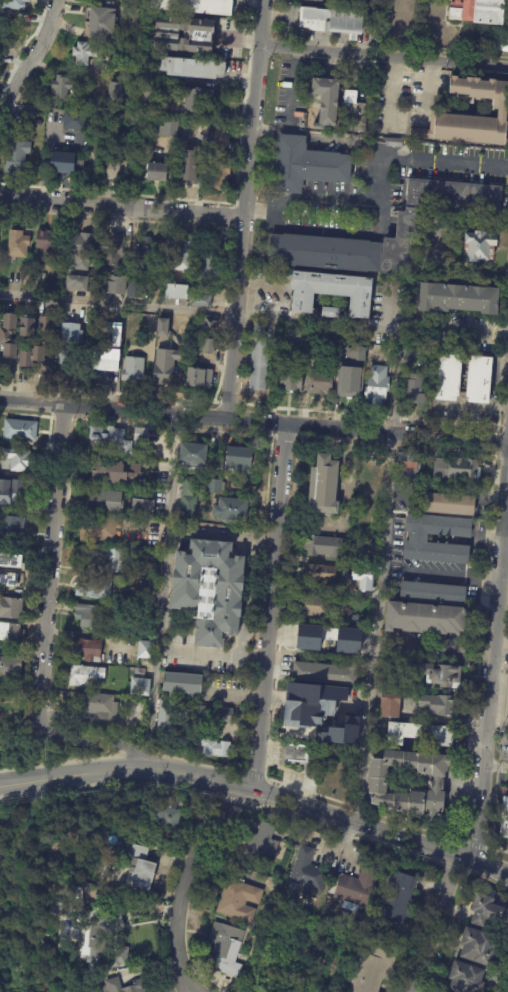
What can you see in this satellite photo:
building: (321, 0)
building: (137, 3)
building: (12, 4)
building: (195, 5)
building: (478, 11)
building: (332, 20)
building: (101, 23)
building: (183, 32)
road: (236, 38)
building: (83, 54)
road: (32, 56)
road: (382, 57)
road: (254, 65)
building: (190, 67)
building: (61, 87)
building: (114, 91)
building: (146, 91)
road: (391, 93)
building: (198, 99)
building: (324, 99)
building: (141, 109)
building: (354, 110)
building: (502, 111)
building: (27, 113)
road: (201, 118)
building: (73, 121)
building: (167, 128)
building: (393, 142)
building: (96, 146)
road: (378, 151)
building: (15, 156)
building: (218, 162)
building: (62, 163)
building: (307, 164)
building: (188, 165)
building: (117, 169)
building: (154, 170)
road: (246, 174)
road: (333, 201)
road: (122, 207)
building: (405, 227)
building: (16, 244)
building: (171, 244)
building: (47, 246)
building: (478, 246)
building: (78, 251)
building: (111, 251)
building: (323, 252)
building: (144, 254)
building: (180, 257)
building: (210, 264)
building: (75, 283)
building: (115, 284)
building: (133, 289)
building: (175, 291)
building: (330, 291)
building: (199, 300)
building: (456, 301)
building: (330, 312)
road: (234, 318)
building: (148, 323)
building: (208, 325)
building: (161, 327)
building: (26, 328)
building: (258, 328)
building: (296, 335)
building: (321, 338)
building: (114, 342)
building: (7, 343)
building: (207, 345)
building: (70, 346)
building: (39, 350)
building: (257, 363)
building: (164, 365)
building: (131, 369)
building: (351, 374)
building: (290, 376)
building: (197, 377)
building: (448, 377)
road: (396, 378)
building: (479, 379)
building: (320, 380)
building: (376, 385)
building: (413, 388)
road: (59, 419)
road: (254, 422)
building: (18, 429)
road: (61, 429)
road: (45, 433)
building: (139, 434)
building: (109, 439)
road: (495, 442)
building: (191, 454)
road: (496, 456)
road: (502, 457)
building: (237, 458)
building: (15, 459)
road: (67, 459)
building: (407, 464)
road: (58, 467)
building: (457, 468)
building: (101, 470)
building: (140, 474)
building: (367, 474)
building: (323, 483)
building: (213, 485)
building: (13, 489)
building: (104, 497)
building: (187, 499)
building: (447, 503)
building: (141, 506)
building: (230, 508)
building: (10, 524)
building: (96, 528)
road: (220, 535)
building: (416, 537)
building: (322, 546)
building: (104, 555)
road: (500, 556)
building: (6, 566)
road: (503, 572)
building: (318, 574)
road: (451, 574)
building: (362, 578)
road: (270, 583)
building: (92, 587)
building: (143, 588)
building: (209, 588)
building: (432, 591)
road: (160, 593)
building: (313, 605)
building: (10, 607)
building: (90, 615)
building: (425, 617)
building: (352, 620)
building: (10, 631)
building: (308, 643)
road: (479, 647)
building: (85, 649)
building: (144, 649)
road: (210, 650)
road: (42, 664)
building: (9, 669)
building: (137, 671)
building: (325, 672)
building: (429, 673)
building: (84, 675)
building: (181, 683)
building: (138, 686)
road: (273, 694)
building: (311, 703)
building: (436, 704)
building: (388, 705)
building: (99, 706)
building: (214, 714)
road: (246, 717)
road: (271, 718)
building: (163, 719)
building: (342, 732)
building: (416, 733)
building: (215, 747)
road: (269, 750)
road: (151, 752)
road: (135, 753)
road: (155, 753)
road: (122, 754)
building: (303, 755)
road: (60, 760)
road: (196, 760)
road: (253, 764)
road: (482, 766)
road: (495, 768)
road: (239, 772)
road: (239, 773)
road: (250, 775)
road: (263, 779)
building: (378, 783)
road: (104, 789)
road: (258, 792)
road: (210, 797)
road: (230, 798)
road: (210, 803)
road: (252, 806)
road: (360, 809)
building: (167, 813)
building: (503, 819)
building: (283, 823)
road: (348, 832)
road: (463, 842)
road: (463, 842)
road: (473, 845)
building: (260, 847)
road: (484, 847)
road: (497, 849)
building: (144, 867)
road: (455, 869)
building: (310, 870)
road: (468, 872)
building: (337, 879)
road: (490, 879)
road: (189, 882)
building: (291, 886)
building: (357, 888)
building: (398, 898)
building: (239, 901)
building: (489, 910)
building: (106, 918)
road: (436, 924)
building: (349, 927)
building: (0, 933)
building: (0, 935)
building: (480, 945)
building: (227, 948)
building: (106, 953)
building: (375, 969)
building: (467, 978)
building: (113, 984)

